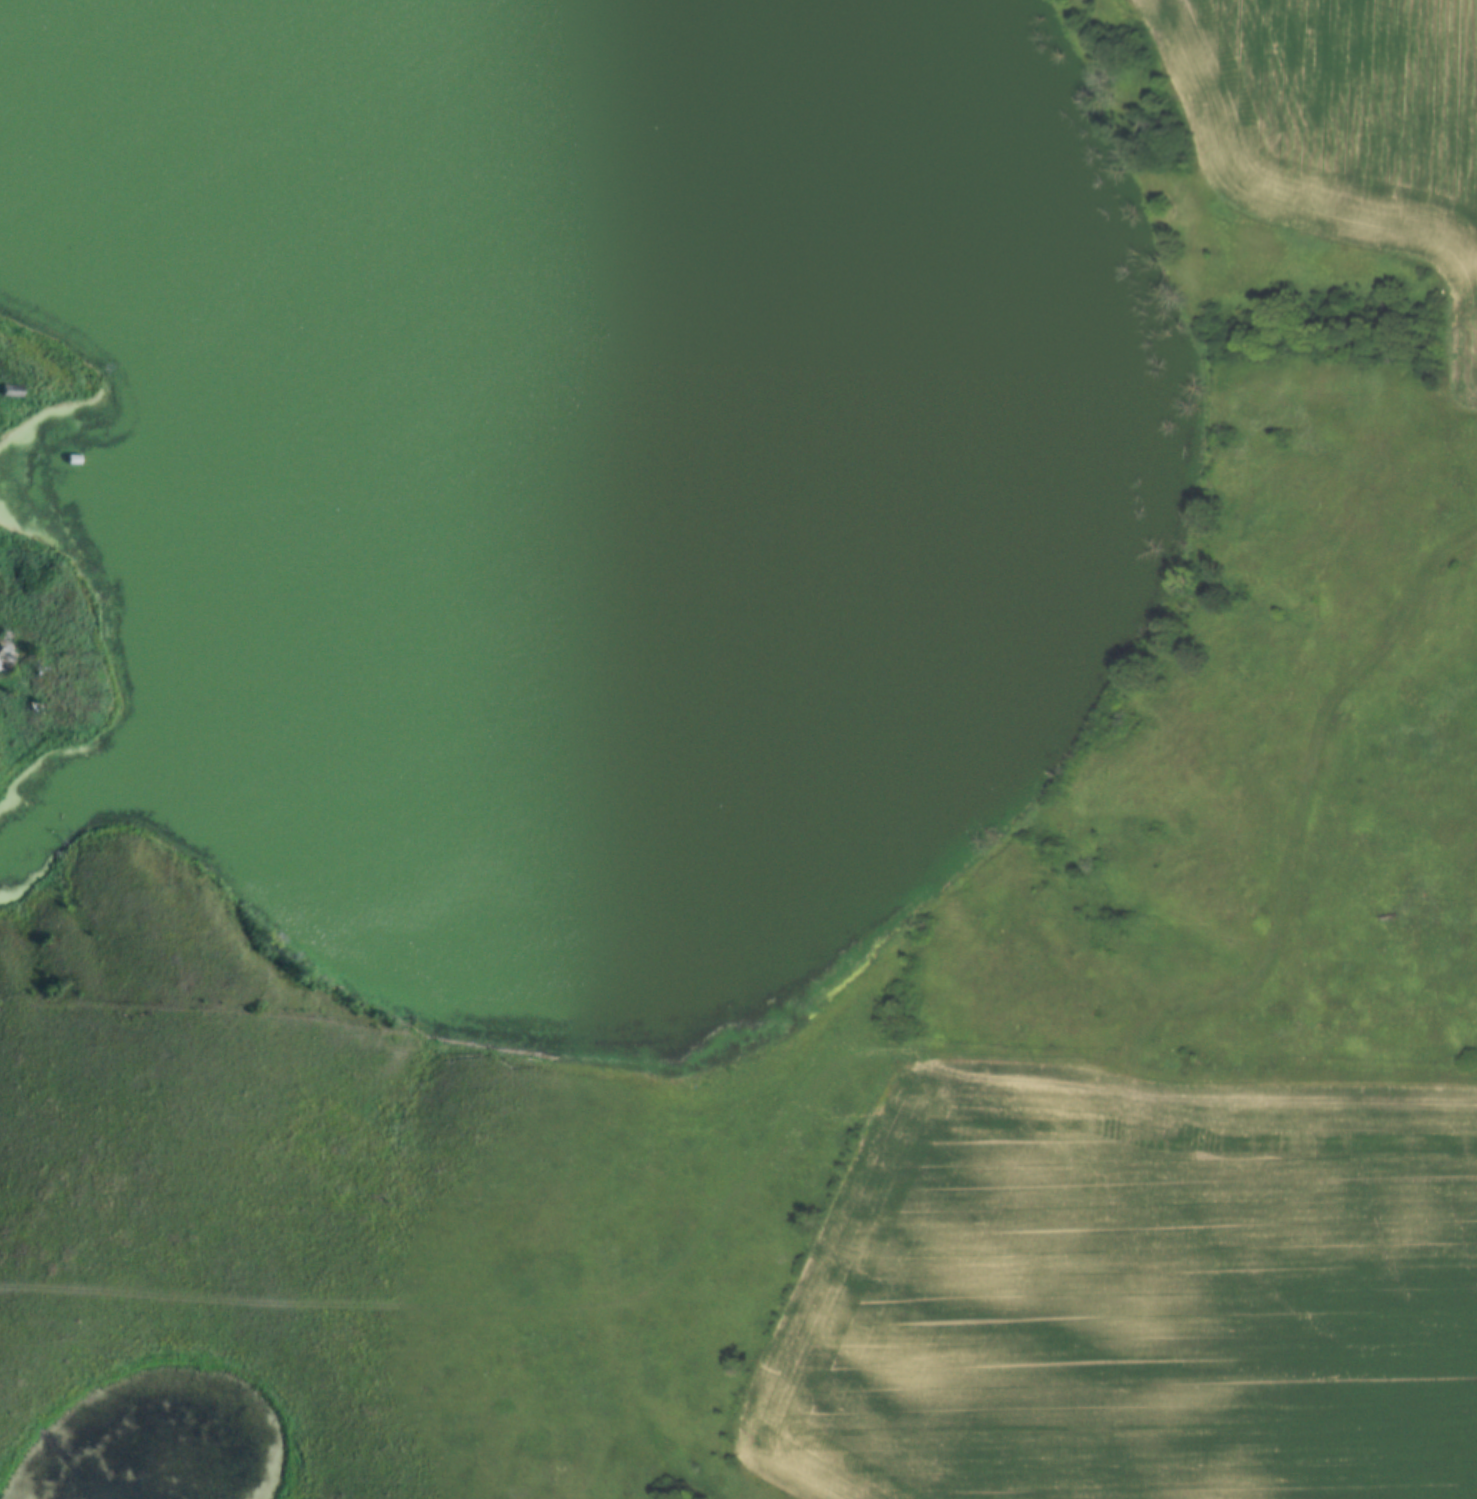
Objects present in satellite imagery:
building: (11, 389)
building: (0, 583)
building: (3, 655)

